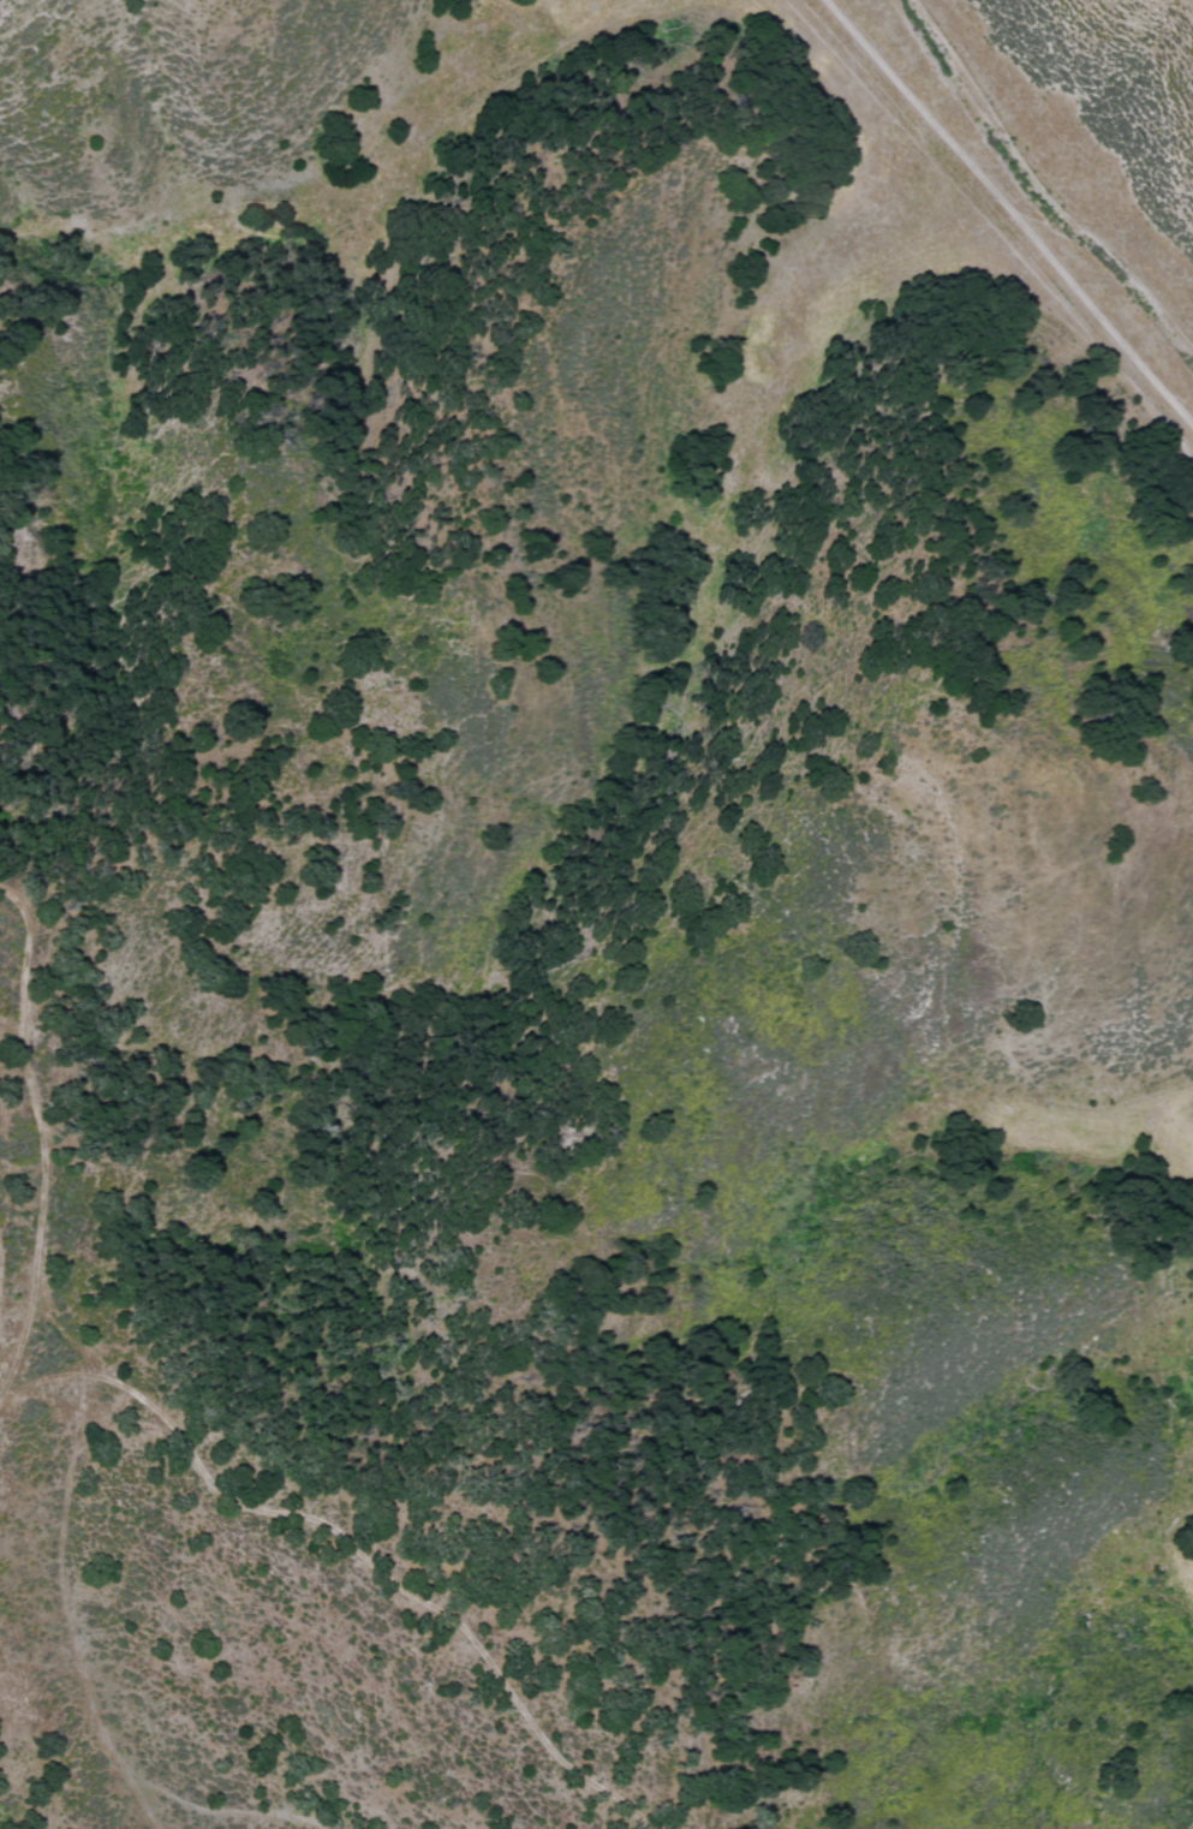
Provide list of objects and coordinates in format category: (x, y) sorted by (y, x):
road: (1014, 208)
road: (20, 1346)
road: (181, 1435)

